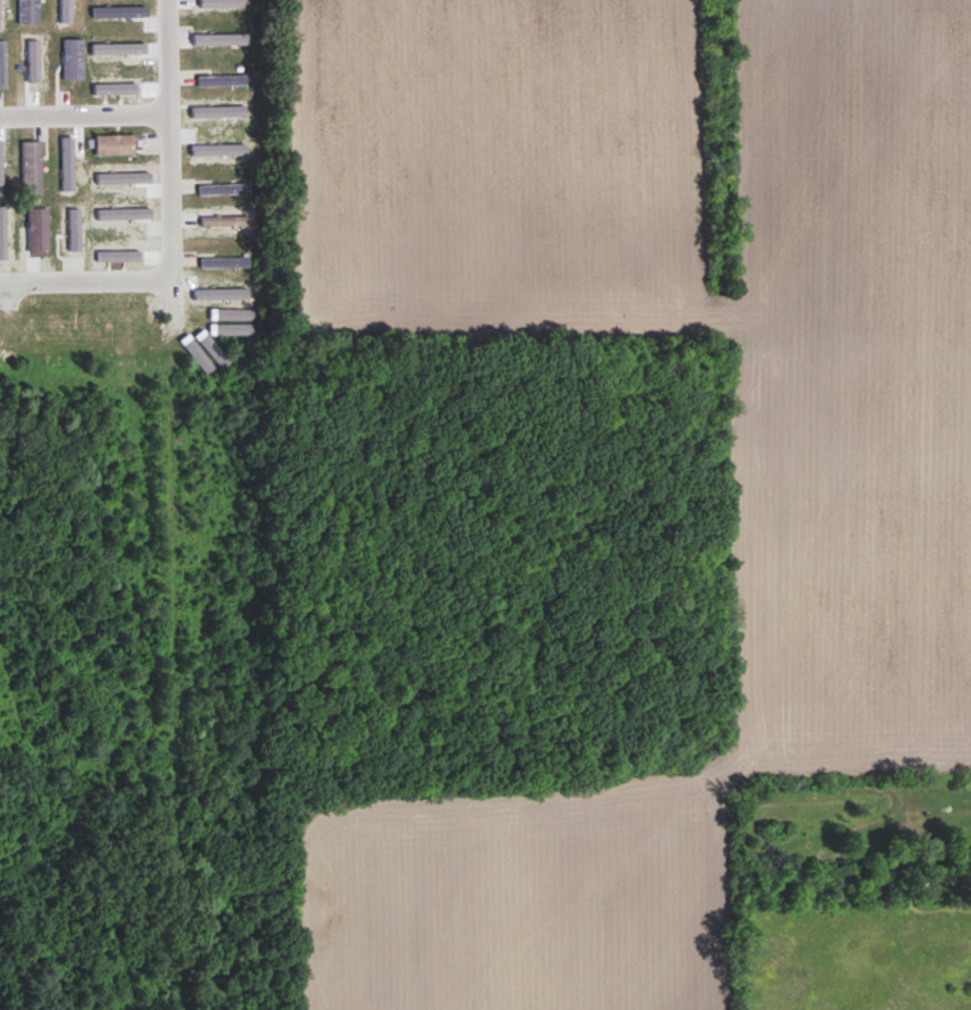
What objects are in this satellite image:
building: (28, 11)
building: (2, 64)
building: (221, 81)
road: (85, 114)
building: (114, 145)
road: (170, 155)
building: (31, 168)
building: (221, 190)
building: (224, 263)
road: (85, 280)

